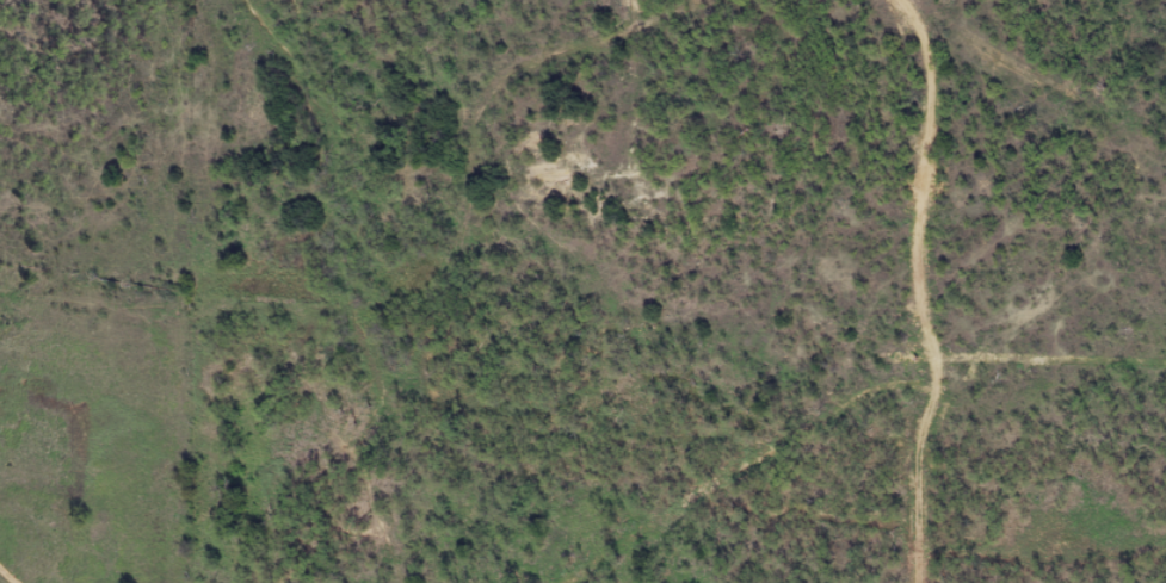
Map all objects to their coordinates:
road: (475, 88)
road: (461, 286)

